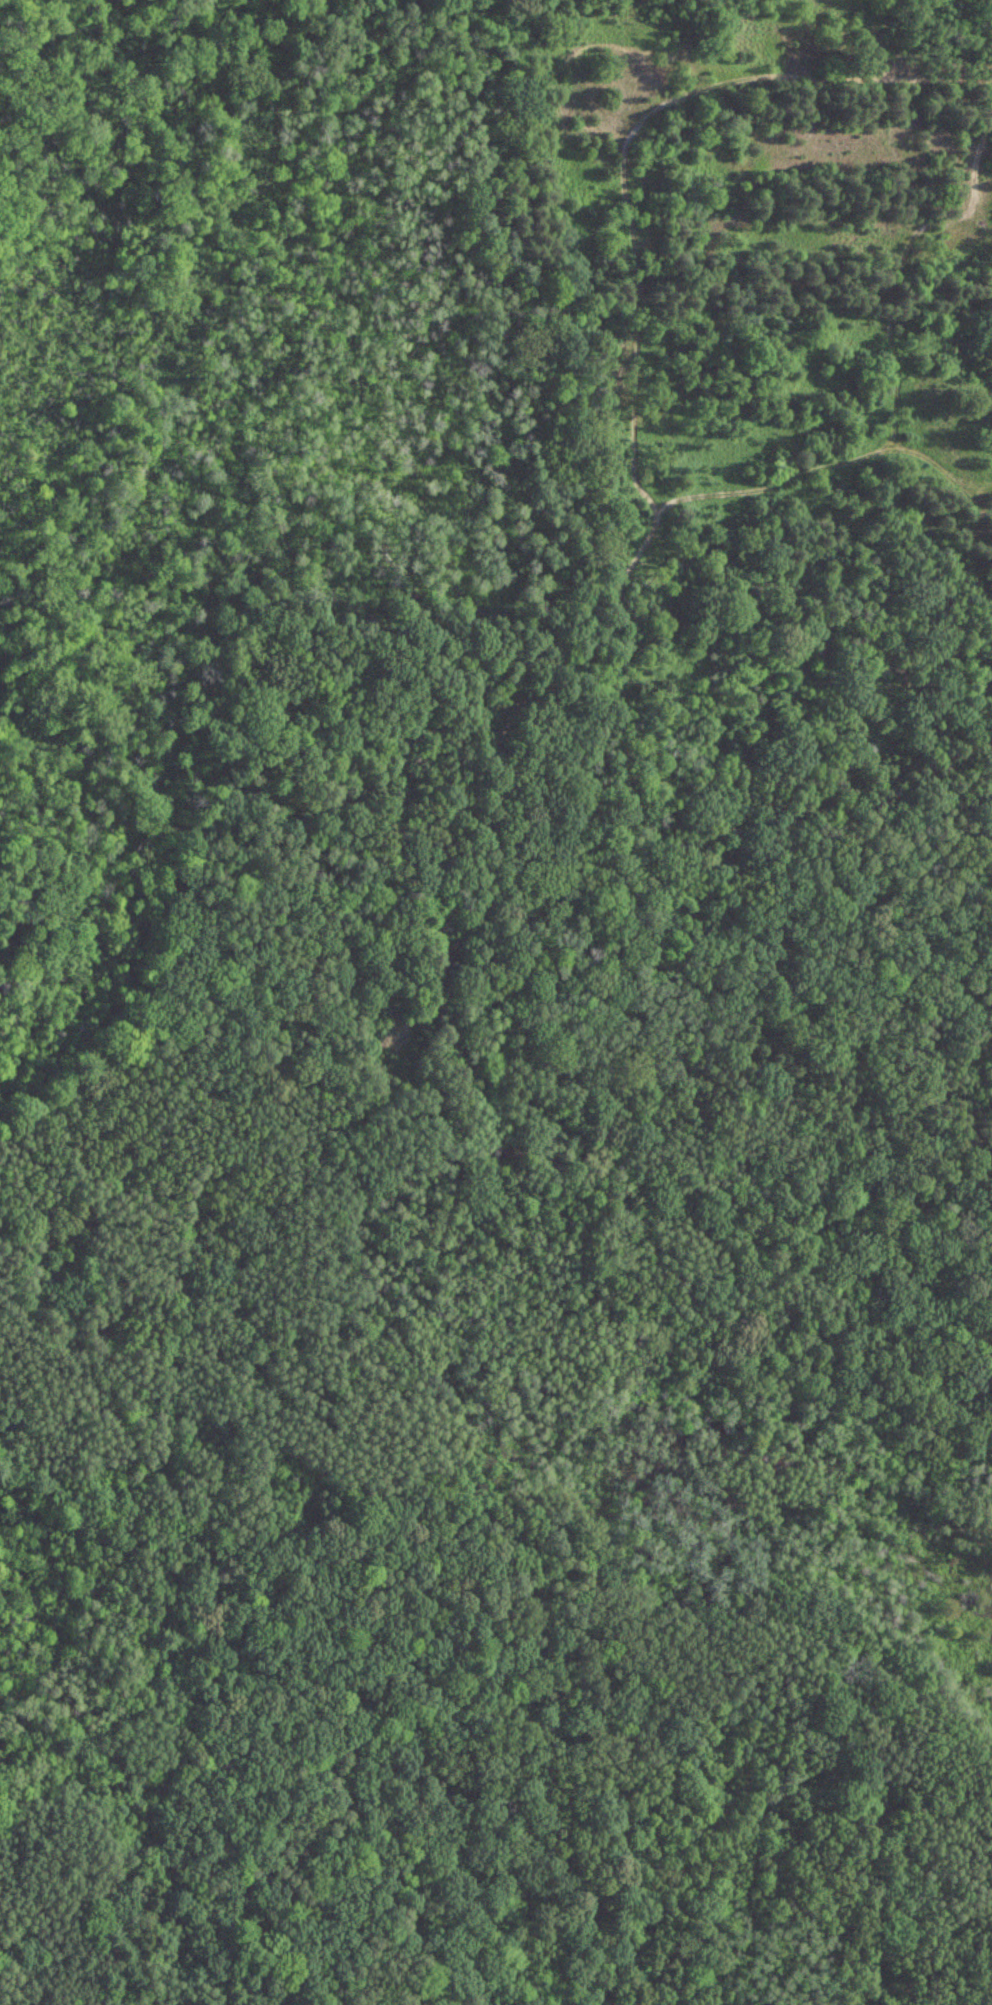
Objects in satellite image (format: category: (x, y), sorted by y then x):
road: (66, 64)
road: (464, 649)
road: (442, 862)
road: (114, 1619)

